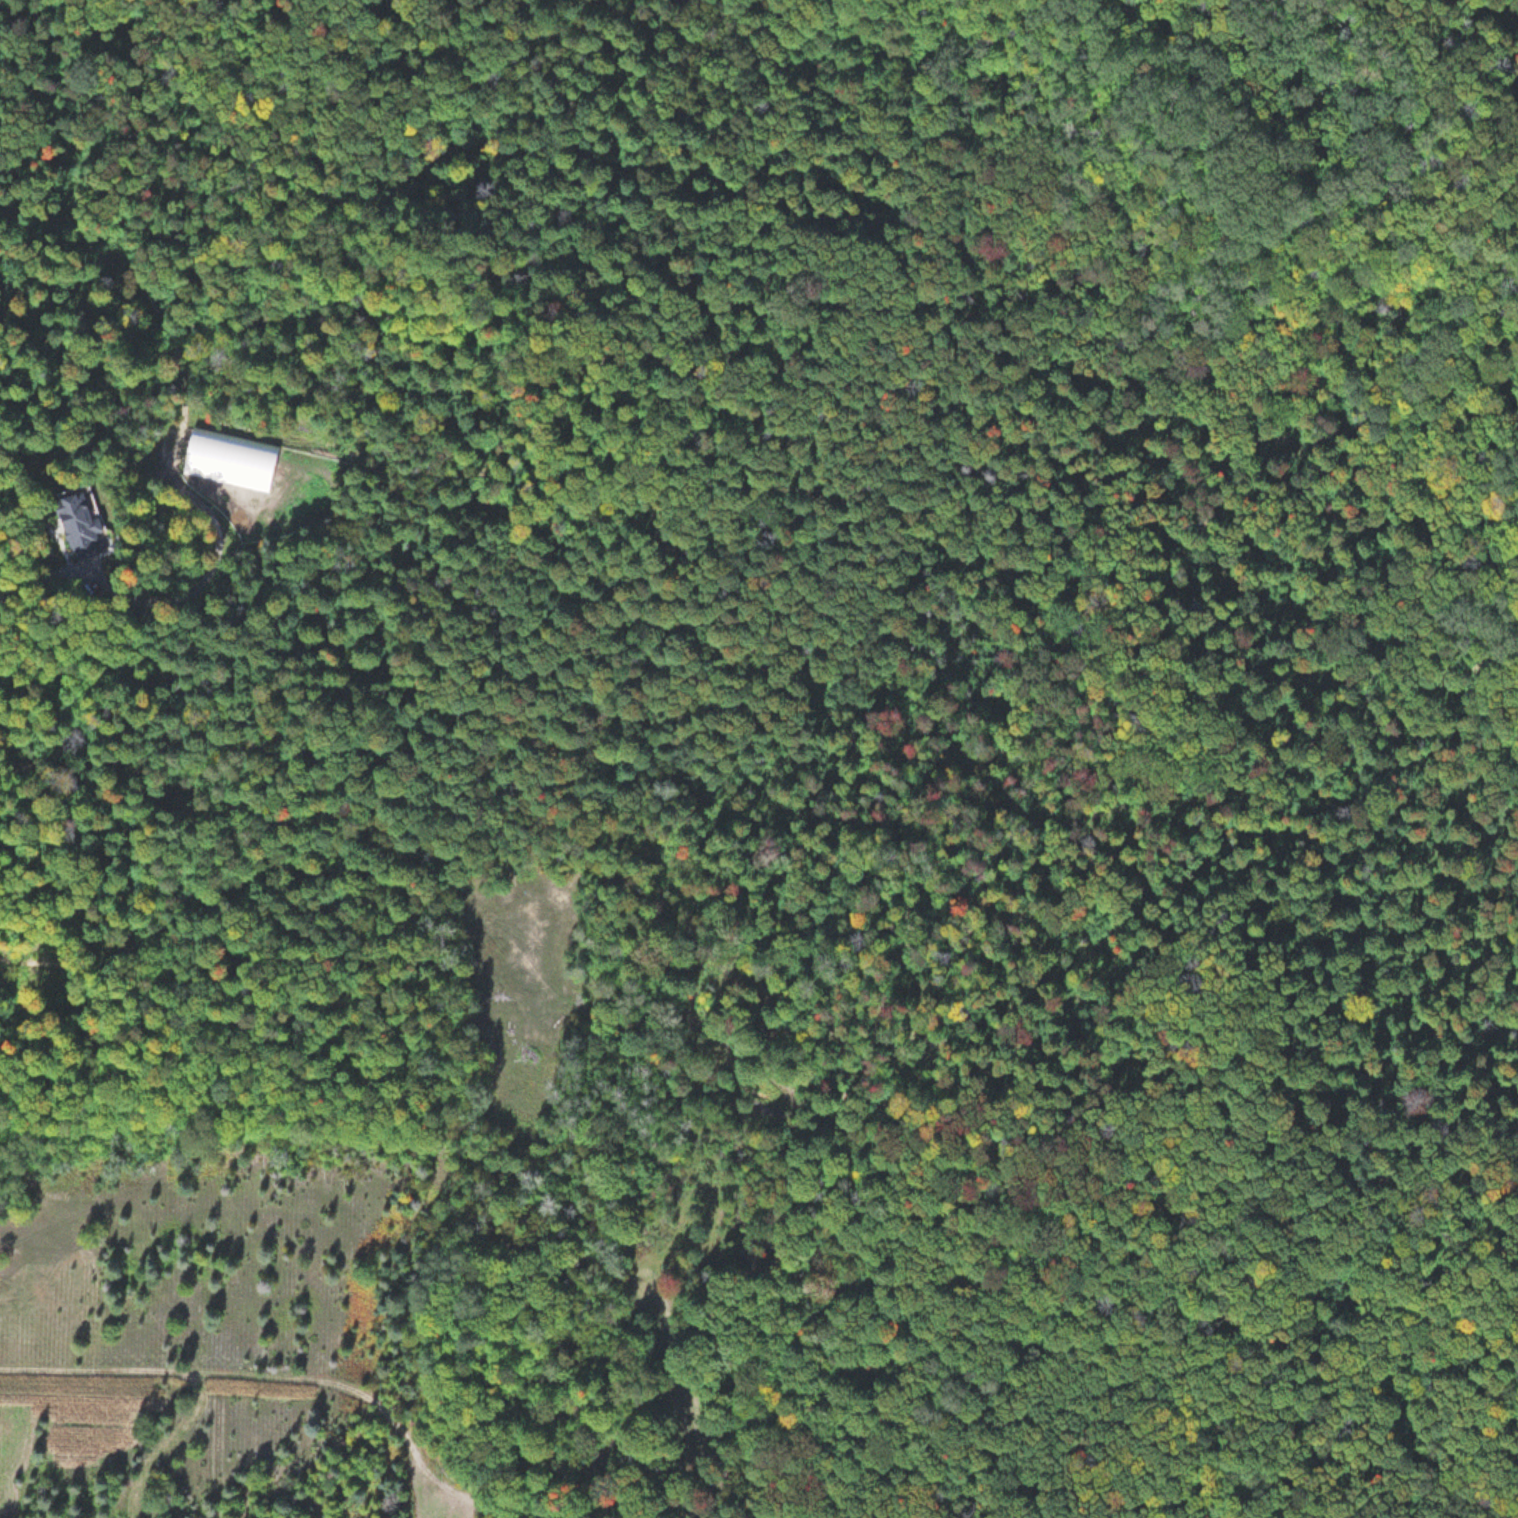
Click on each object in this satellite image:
building: (88, 527)

